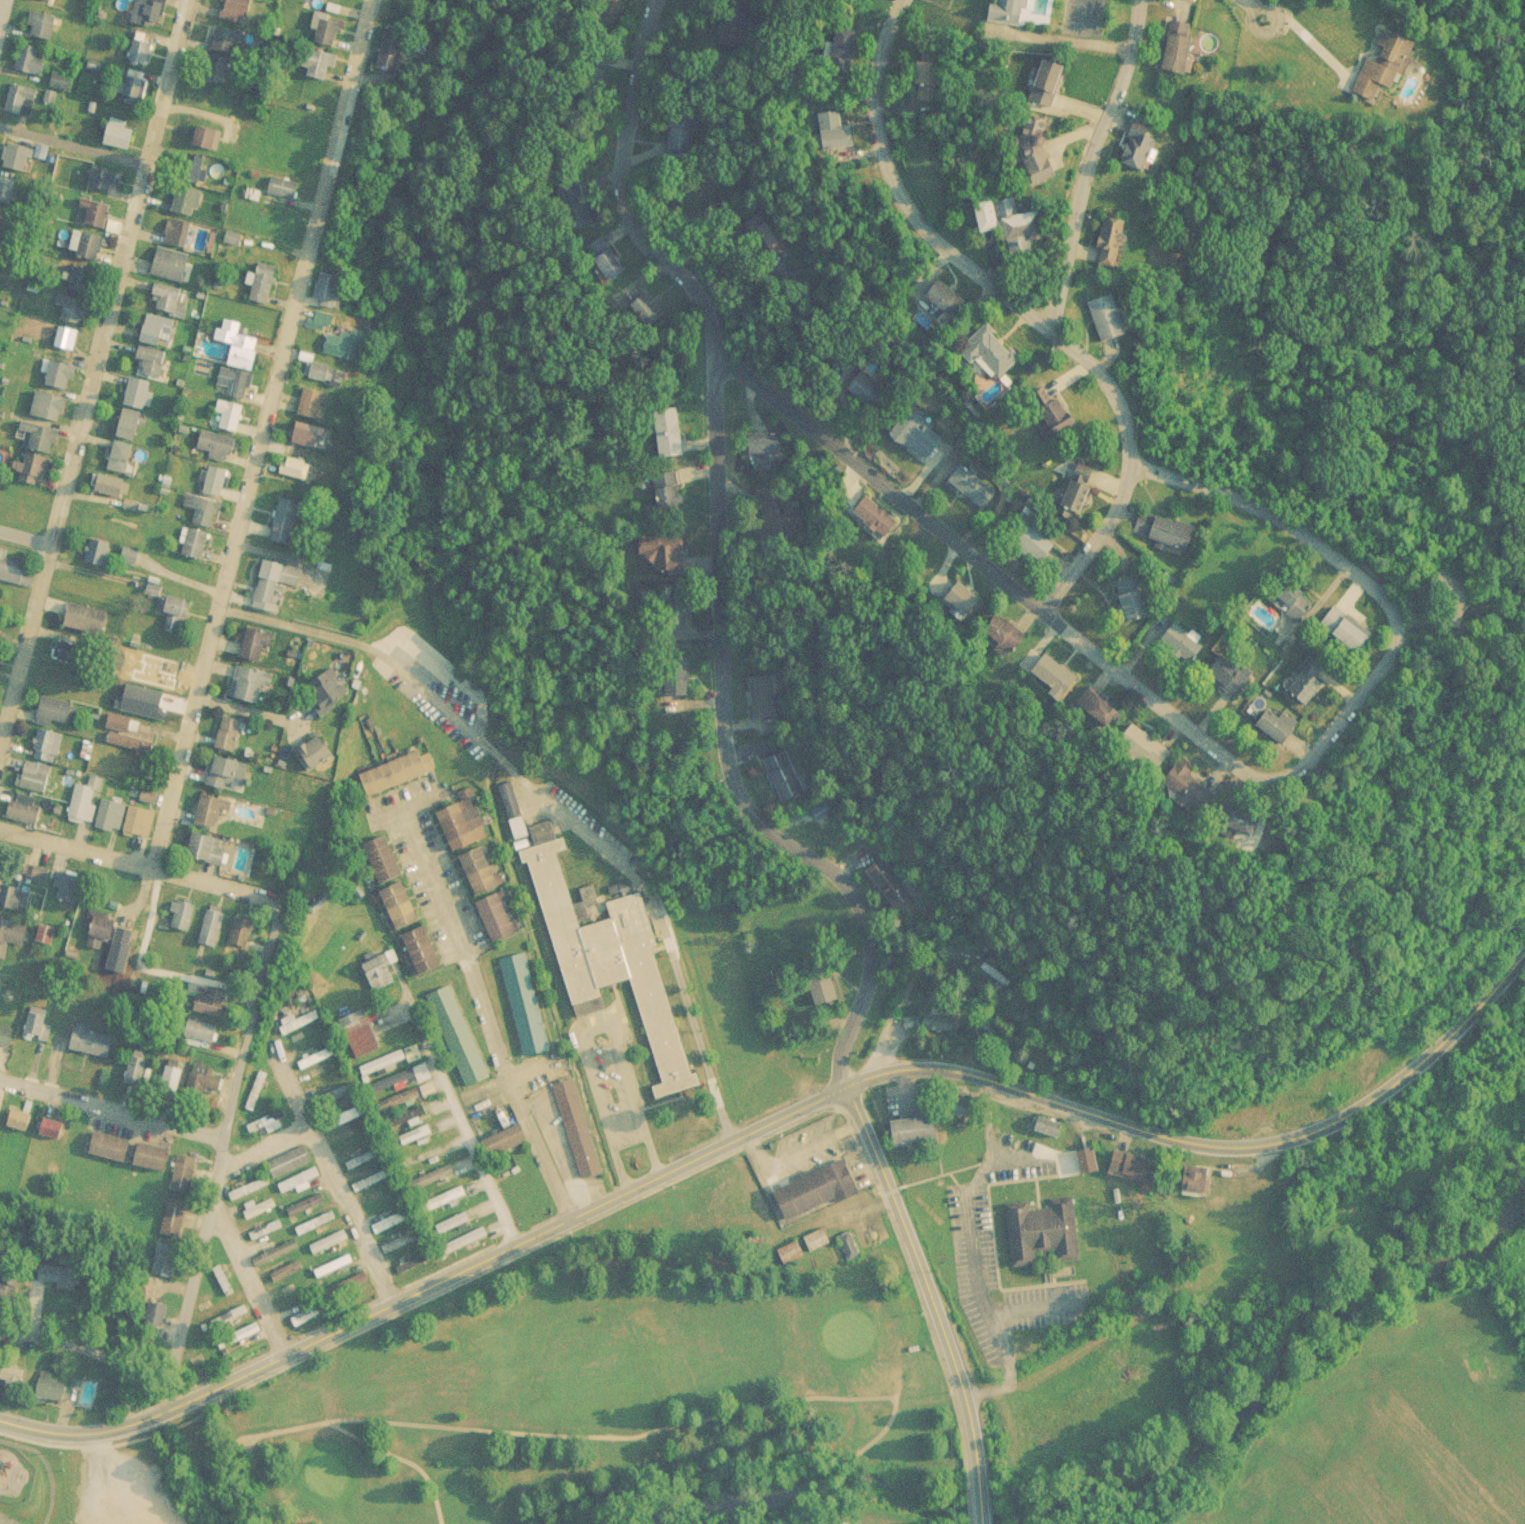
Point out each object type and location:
building: (47, 2)
road: (1256, 5)
road: (2, 9)
road: (1265, 9)
building: (1007, 11)
building: (237, 14)
building: (153, 16)
building: (43, 31)
building: (331, 39)
road: (1063, 39)
building: (844, 41)
building: (227, 46)
building: (1179, 46)
building: (393, 55)
building: (142, 57)
building: (1386, 63)
building: (31, 66)
building: (324, 69)
building: (220, 76)
building: (61, 80)
building: (929, 80)
building: (1049, 82)
building: (64, 87)
building: (137, 94)
building: (22, 106)
building: (834, 131)
building: (118, 134)
building: (683, 138)
building: (208, 144)
road: (73, 147)
building: (1037, 148)
building: (1136, 148)
building: (17, 163)
road: (1092, 163)
building: (198, 175)
building: (105, 185)
building: (285, 193)
building: (7, 195)
building: (704, 198)
building: (707, 204)
building: (189, 207)
building: (100, 220)
building: (1012, 222)
building: (4, 225)
building: (180, 238)
building: (1110, 241)
building: (0, 245)
building: (91, 252)
building: (1, 254)
road: (948, 255)
building: (611, 270)
building: (172, 271)
building: (83, 285)
building: (266, 290)
building: (330, 294)
building: (945, 296)
building: (169, 305)
building: (1105, 316)
building: (647, 317)
building: (159, 336)
building: (66, 343)
building: (242, 350)
building: (344, 350)
building: (992, 351)
building: (154, 367)
road: (94, 370)
building: (58, 379)
building: (239, 388)
building: (867, 390)
building: (140, 399)
building: (316, 408)
building: (51, 413)
building: (1062, 414)
building: (230, 422)
building: (132, 430)
road: (264, 433)
building: (917, 440)
building: (309, 441)
building: (41, 444)
building: (219, 451)
building: (123, 462)
building: (297, 473)
building: (36, 474)
building: (214, 481)
building: (971, 486)
building: (1077, 489)
building: (111, 491)
building: (673, 509)
building: (205, 510)
building: (780, 518)
building: (871, 519)
building: (288, 521)
building: (1170, 532)
road: (25, 537)
building: (196, 541)
building: (1036, 542)
road: (716, 555)
building: (99, 558)
building: (665, 560)
building: (12, 574)
building: (273, 582)
building: (1133, 597)
building: (964, 598)
building: (1291, 599)
building: (177, 619)
building: (88, 625)
building: (1355, 632)
building: (1006, 633)
building: (1184, 642)
building: (259, 649)
building: (1053, 675)
building: (1231, 675)
building: (1308, 680)
building: (251, 690)
building: (761, 695)
building: (330, 708)
building: (1099, 708)
road: (255, 711)
building: (57, 717)
building: (1278, 726)
building: (232, 740)
building: (129, 743)
building: (132, 750)
building: (1147, 750)
building: (48, 752)
building: (319, 757)
building: (397, 771)
building: (228, 778)
building: (783, 778)
road: (1280, 781)
building: (36, 783)
building: (1190, 789)
road: (557, 799)
building: (86, 806)
building: (26, 815)
building: (214, 816)
building: (1242, 819)
building: (112, 822)
building: (456, 824)
building: (141, 827)
building: (518, 834)
building: (209, 855)
building: (386, 859)
building: (480, 873)
building: (38, 880)
building: (888, 883)
road: (288, 884)
building: (69, 891)
road: (256, 891)
building: (15, 905)
building: (403, 907)
building: (499, 918)
building: (186, 922)
building: (215, 934)
road: (457, 934)
building: (245, 938)
building: (111, 939)
building: (47, 940)
building: (12, 941)
building: (419, 949)
building: (607, 953)
building: (0, 977)
building: (382, 979)
building: (2, 988)
building: (822, 988)
building: (214, 1009)
building: (526, 1011)
building: (936, 1020)
building: (294, 1021)
road: (594, 1021)
building: (297, 1028)
building: (39, 1033)
building: (306, 1038)
building: (363, 1040)
building: (7, 1042)
building: (460, 1042)
building: (309, 1045)
building: (94, 1048)
building: (315, 1056)
building: (380, 1062)
building: (318, 1063)
building: (383, 1068)
building: (138, 1073)
building: (397, 1079)
building: (400, 1085)
road: (852, 1086)
building: (255, 1089)
building: (207, 1091)
building: (0, 1094)
building: (333, 1094)
building: (258, 1096)
building: (405, 1096)
building: (336, 1101)
road: (111, 1102)
building: (408, 1102)
building: (2, 1111)
building: (345, 1115)
building: (405, 1117)
building: (268, 1120)
building: (348, 1122)
building: (409, 1124)
road: (468, 1124)
building: (25, 1127)
building: (270, 1127)
building: (1047, 1127)
building: (50, 1128)
building: (917, 1130)
building: (414, 1134)
building: (54, 1135)
building: (353, 1135)
building: (580, 1135)
building: (417, 1141)
building: (355, 1142)
road: (544, 1142)
building: (509, 1148)
road: (251, 1151)
building: (113, 1153)
building: (362, 1157)
building: (1087, 1161)
building: (156, 1163)
building: (366, 1164)
building: (1136, 1165)
building: (292, 1168)
building: (429, 1177)
building: (372, 1178)
building: (186, 1179)
road: (333, 1180)
building: (297, 1181)
building: (1195, 1183)
building: (432, 1184)
building: (375, 1185)
building: (247, 1188)
building: (299, 1188)
building: (817, 1190)
building: (250, 1195)
building: (444, 1198)
building: (381, 1200)
building: (304, 1204)
building: (267, 1205)
building: (447, 1205)
building: (383, 1206)
building: (253, 1210)
building: (270, 1211)
building: (308, 1211)
building: (256, 1217)
building: (392, 1220)
building: (314, 1222)
building: (175, 1223)
building: (395, 1227)
building: (264, 1228)
building: (318, 1229)
building: (1038, 1231)
building: (267, 1235)
building: (816, 1239)
building: (402, 1240)
building: (462, 1240)
building: (327, 1242)
building: (848, 1245)
building: (405, 1247)
building: (465, 1247)
building: (329, 1248)
building: (275, 1252)
building: (791, 1252)
road: (973, 1252)
building: (278, 1258)
building: (414, 1261)
building: (167, 1265)
building: (332, 1266)
building: (418, 1268)
building: (286, 1271)
building: (335, 1273)
building: (289, 1278)
building: (62, 1284)
road: (253, 1285)
building: (225, 1287)
building: (10, 1288)
building: (287, 1289)
building: (357, 1292)
building: (290, 1296)
road: (931, 1301)
road: (1032, 1304)
building: (228, 1316)
building: (231, 1323)
building: (163, 1328)
building: (248, 1330)
building: (251, 1336)
road: (88, 1352)
building: (14, 1383)
building: (53, 1394)
park: (613, 1404)
road: (666, 1425)
road: (83, 1429)
road: (239, 1441)
road: (367, 1442)
road: (130, 1478)
road: (839, 1498)
road: (841, 1520)

